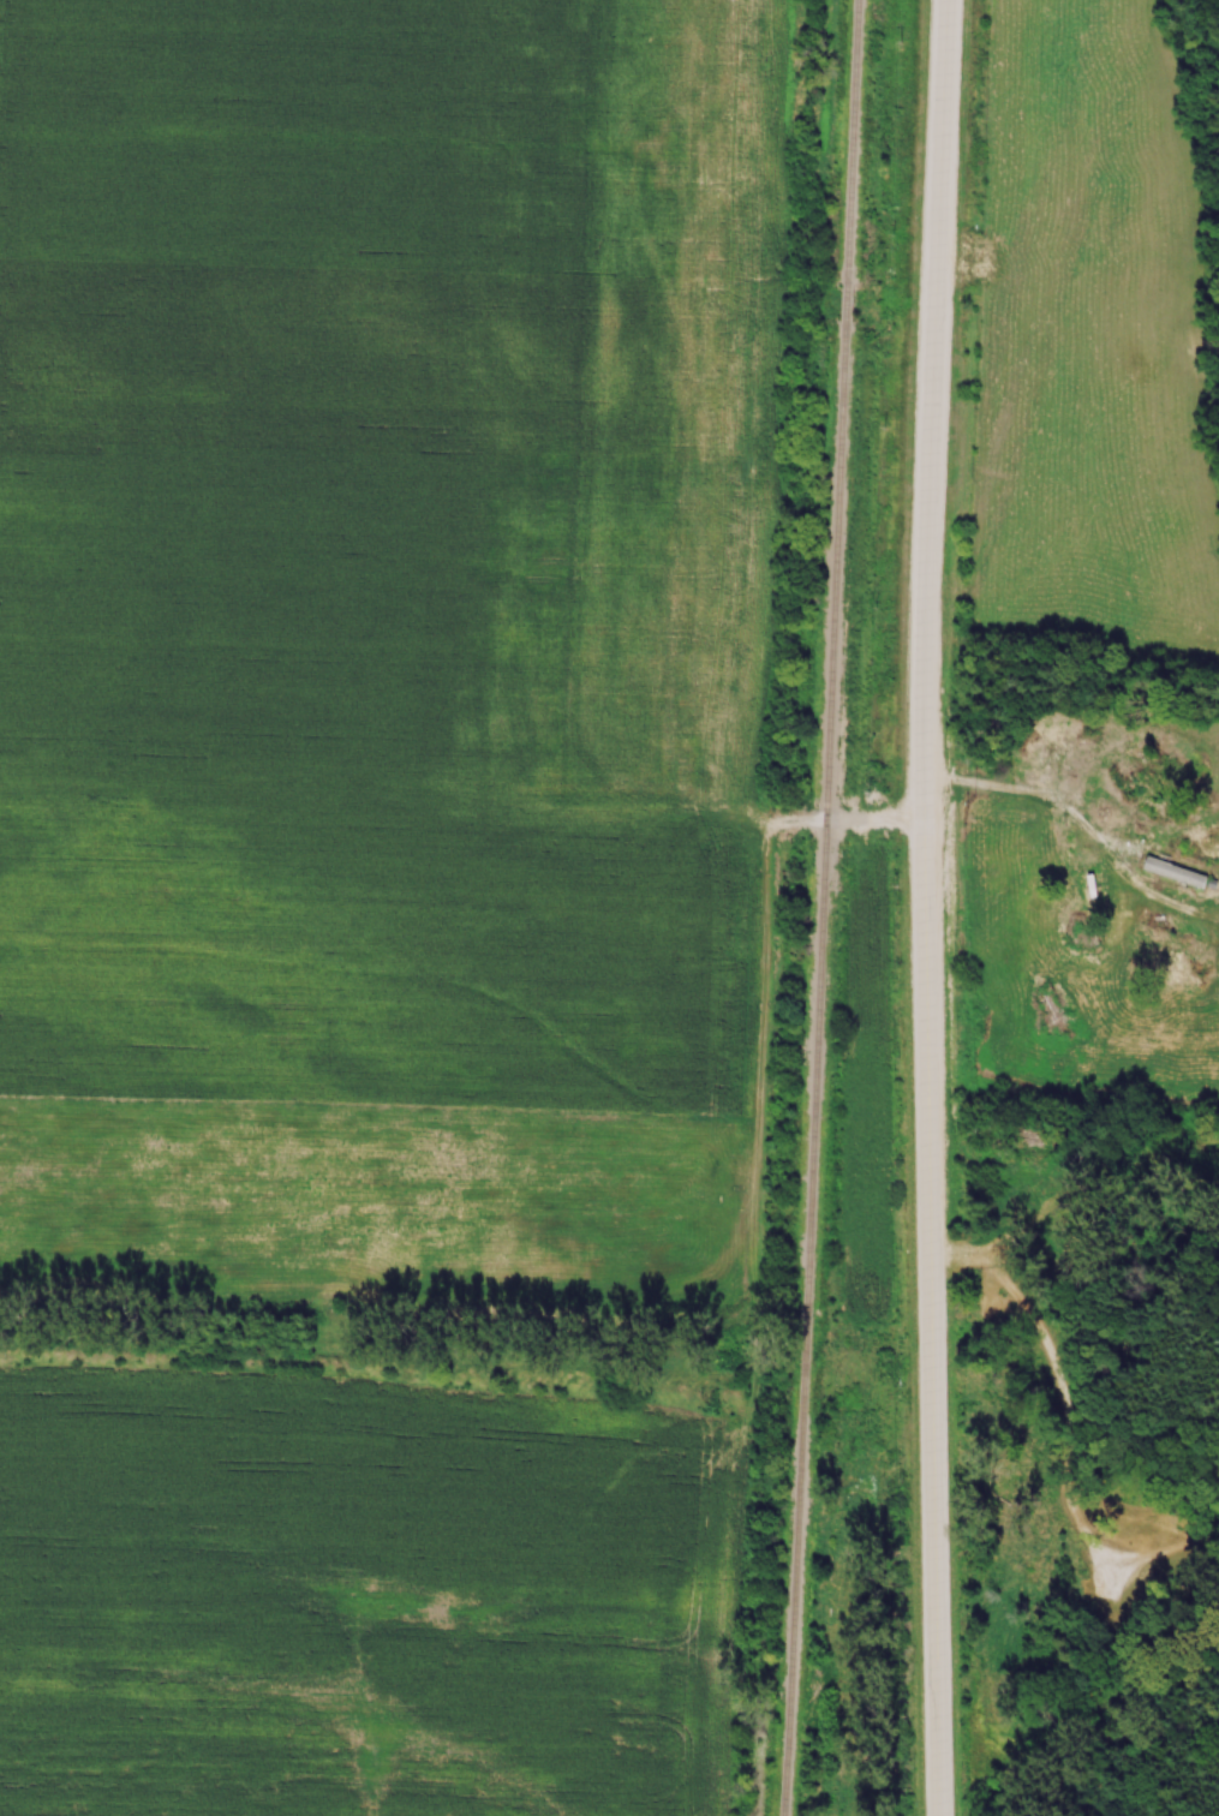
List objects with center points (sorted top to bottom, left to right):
road: (1026, 37)
building: (1050, 716)
building: (1041, 735)
building: (1141, 751)
road: (987, 784)
building: (1131, 787)
building: (1206, 843)
building: (1176, 873)
building: (1033, 890)
building: (1101, 897)
railway: (813, 907)
road: (916, 907)
building: (1152, 1031)

